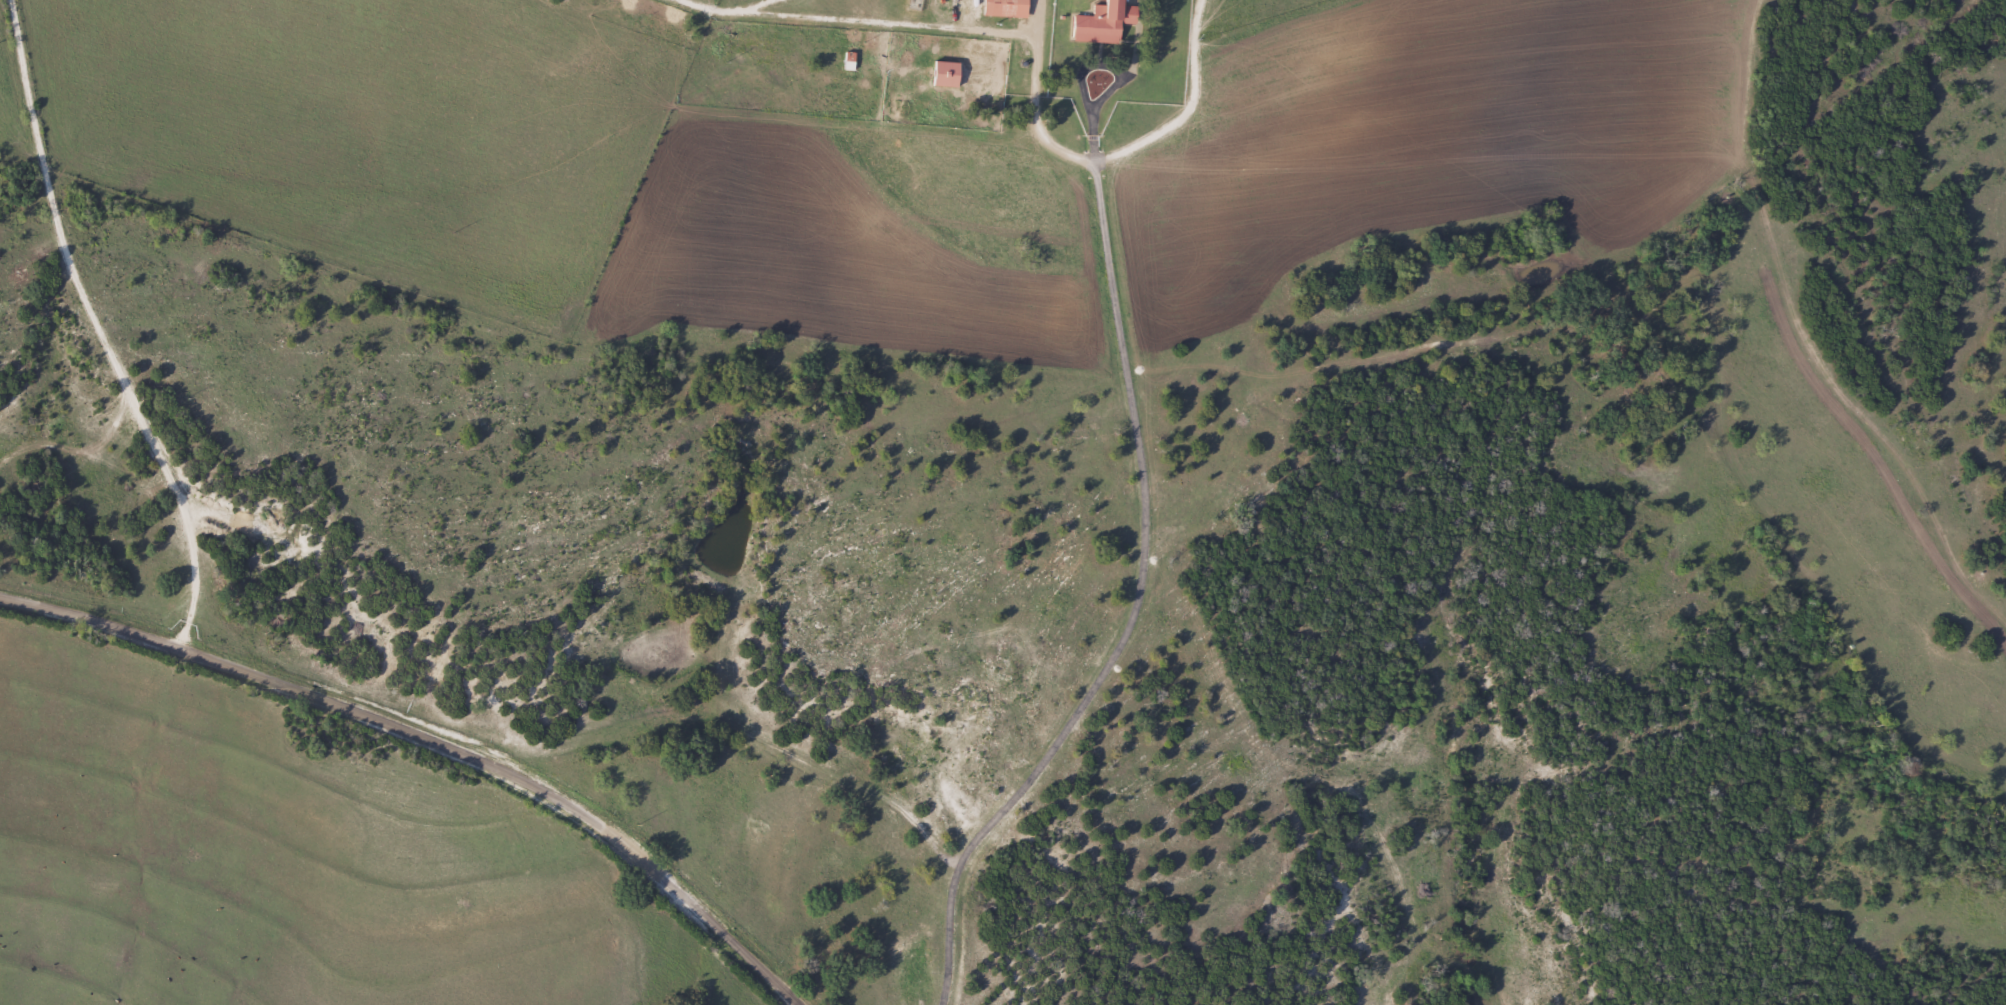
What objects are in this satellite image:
building: (1004, 7)
building: (1102, 21)
building: (849, 61)
building: (945, 72)
road: (1139, 445)
road: (436, 740)

